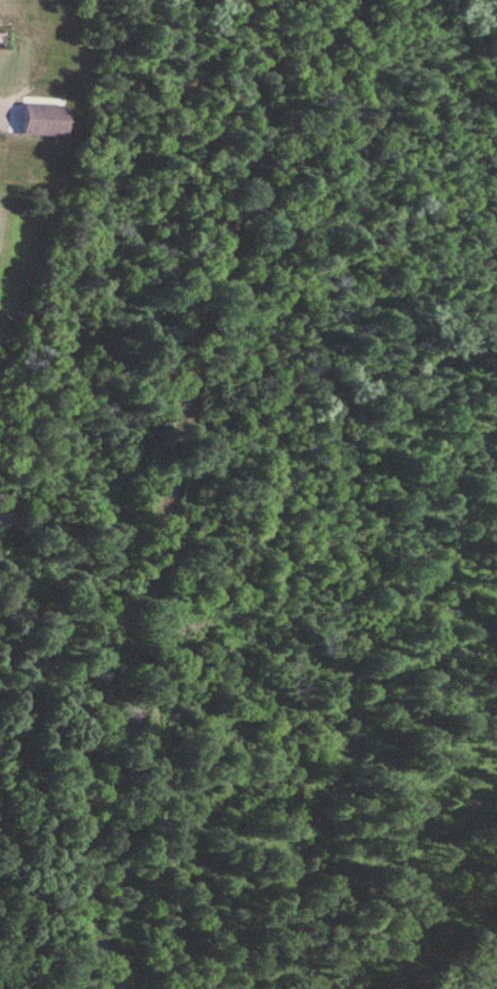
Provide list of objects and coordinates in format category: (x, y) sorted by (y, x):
building: (39, 117)
building: (2, 519)

